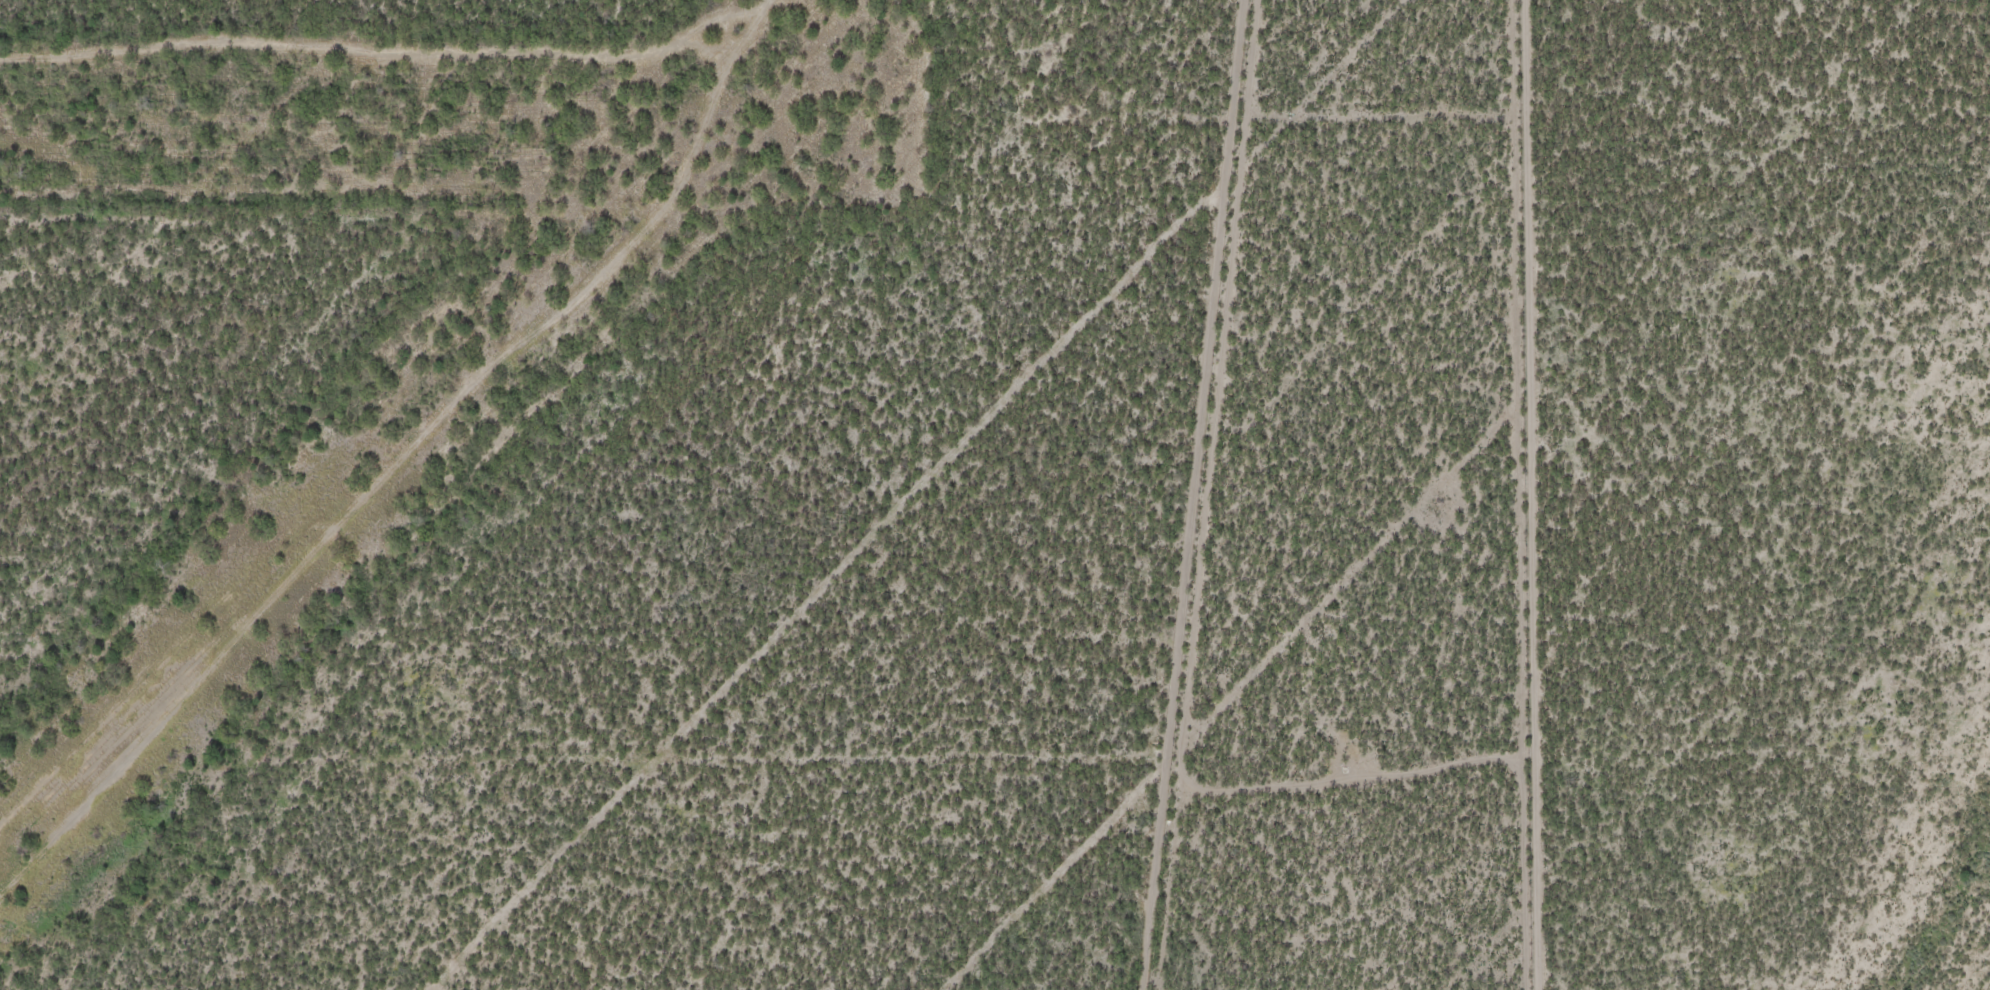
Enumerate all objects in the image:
road: (1937, 35)
road: (1889, 163)
airport: (598, 488)

